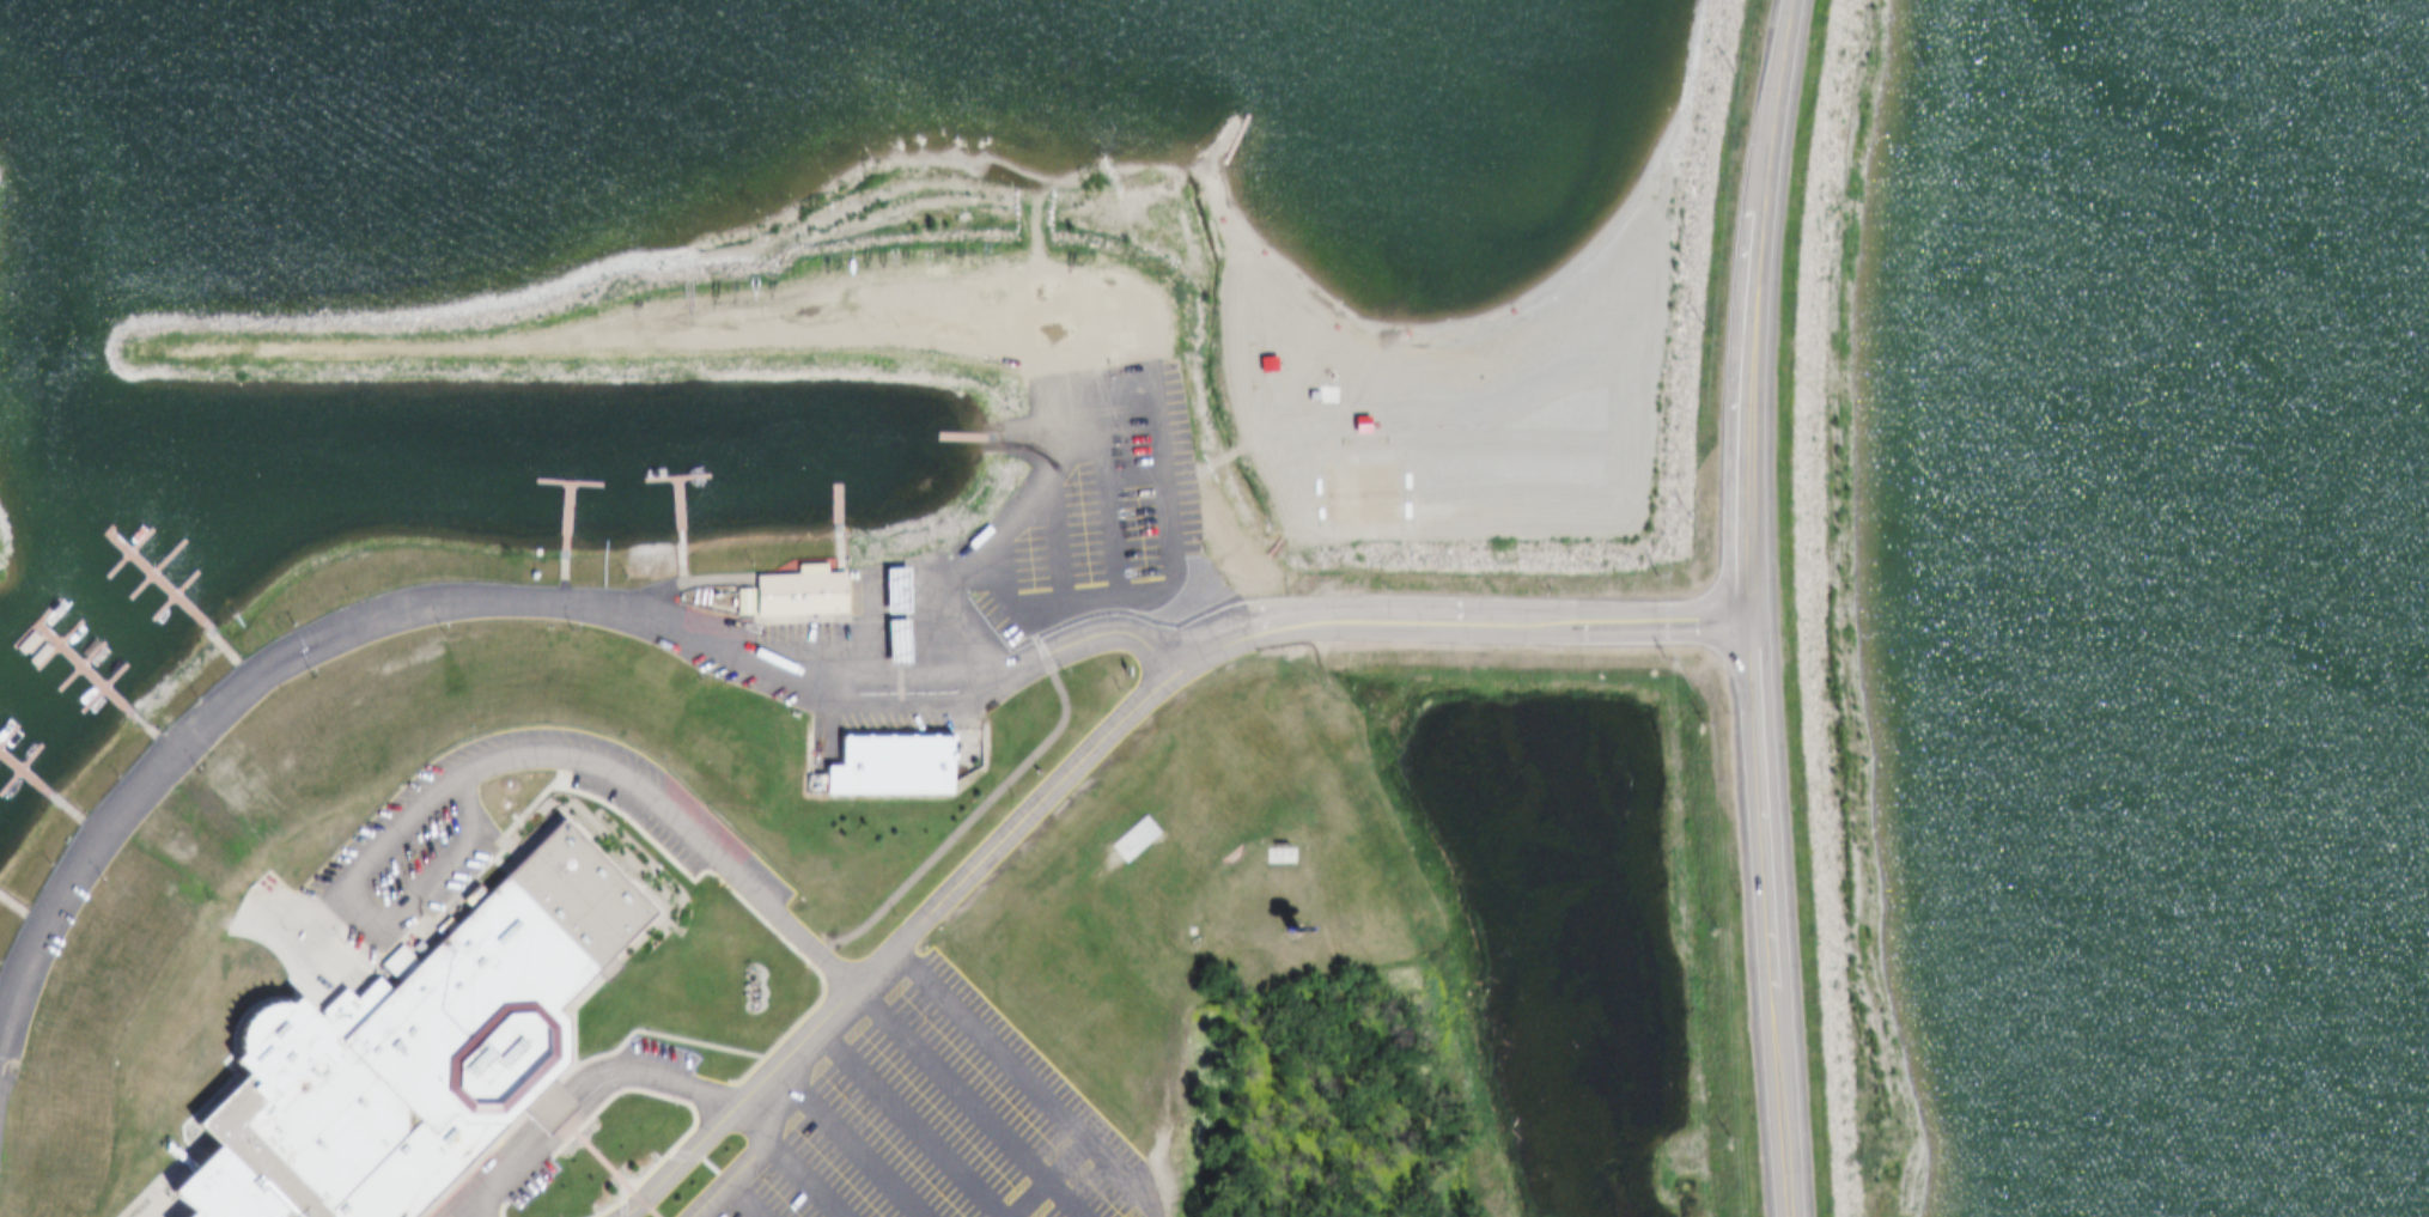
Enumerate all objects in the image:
road: (1755, 104)
road: (1741, 419)
pier: (966, 439)
pier: (561, 485)
pier: (683, 487)
road: (1031, 494)
pier: (842, 510)
pier: (576, 527)
pier: (128, 529)
pier: (152, 549)
pier: (108, 550)
pier: (687, 552)
pier: (130, 572)
pier: (166, 583)
building: (798, 595)
road: (507, 597)
pier: (188, 603)
pier: (189, 603)
pier: (60, 622)
building: (897, 639)
pier: (84, 643)
pier: (39, 644)
building: (693, 662)
pier: (62, 665)
pier: (98, 675)
pier: (111, 689)
pier: (121, 696)
pier: (4, 720)
road: (1102, 742)
pier: (17, 756)
road: (554, 757)
building: (890, 767)
pier: (41, 778)
pier: (50, 787)
road: (1757, 809)
building: (1282, 857)
pier: (22, 909)
pier: (2, 1023)
building: (386, 1054)
road: (1042, 1076)
road: (585, 1082)
road: (1777, 1102)

